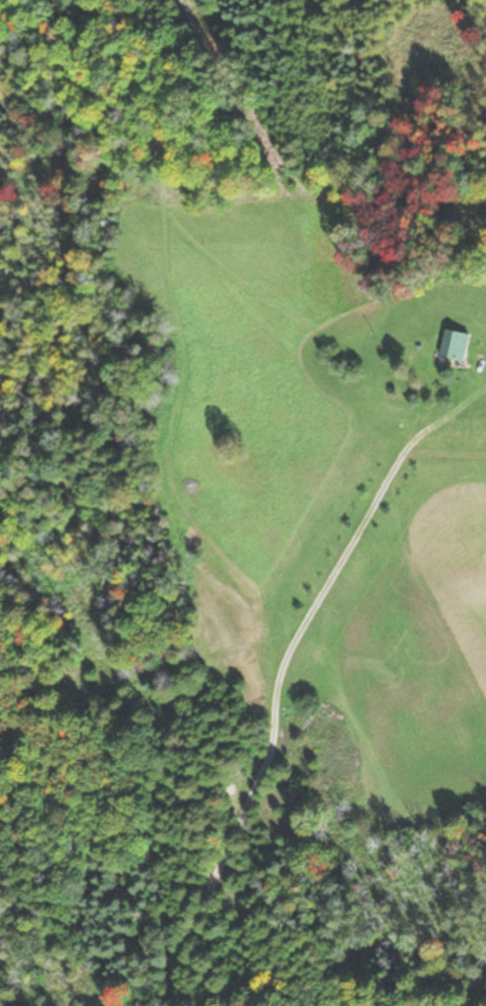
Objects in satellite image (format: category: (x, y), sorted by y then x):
building: (456, 343)
road: (244, 696)

